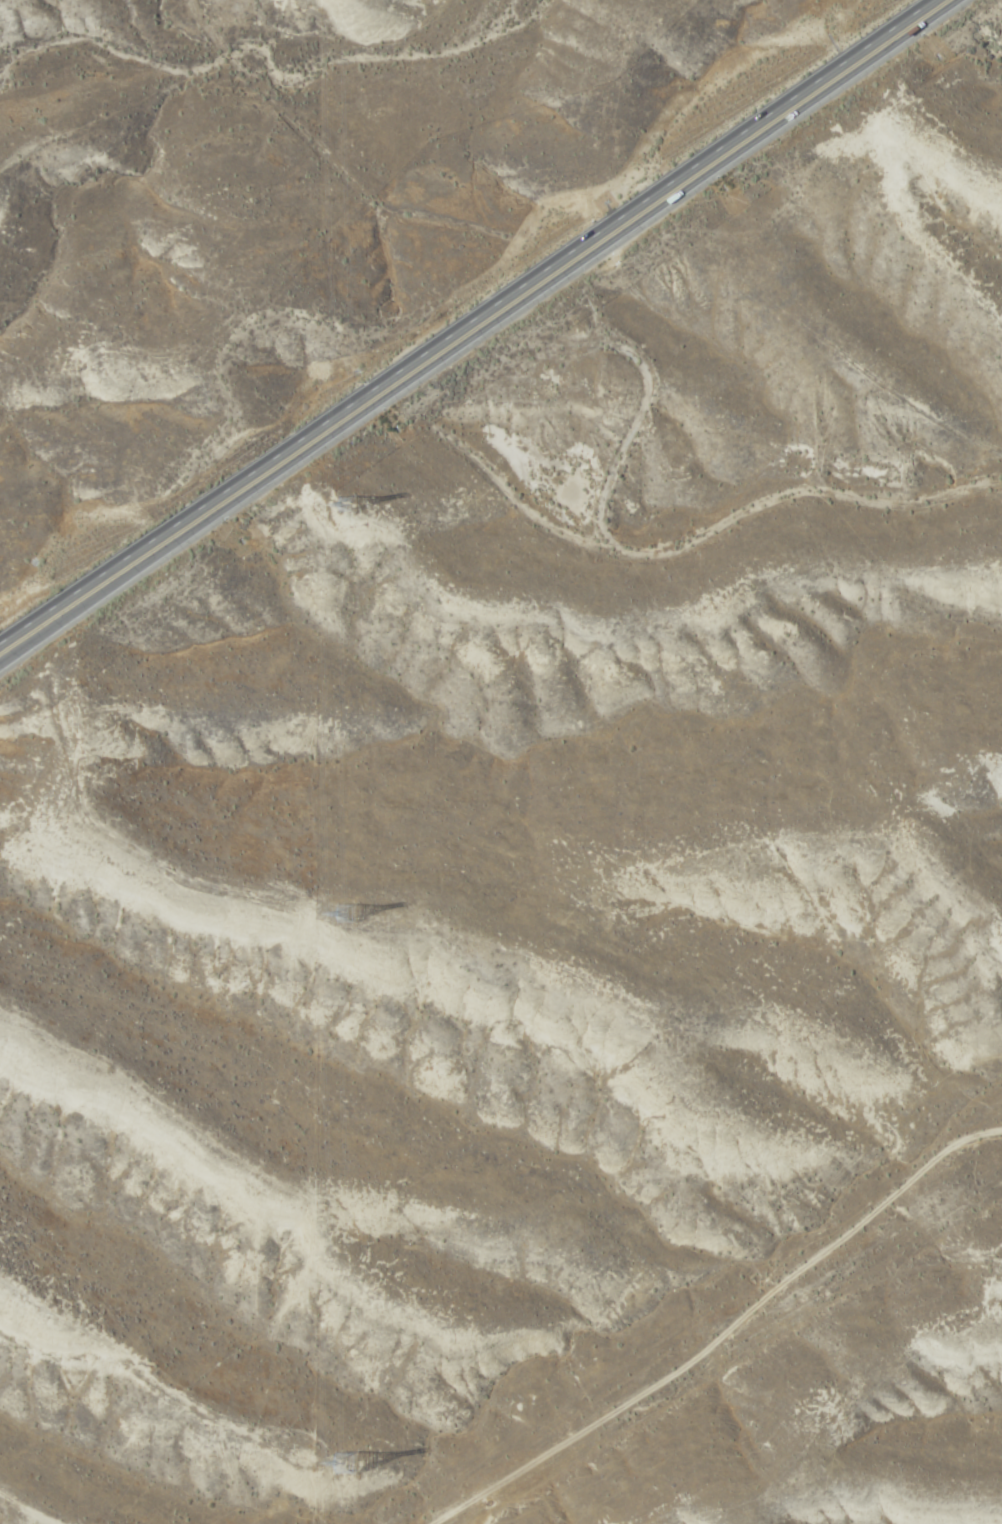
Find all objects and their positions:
road: (474, 325)
road: (767, 464)
power tower: (347, 506)
power tower: (349, 911)
crop: (555, 953)
road: (784, 1352)
power tower: (348, 1462)

